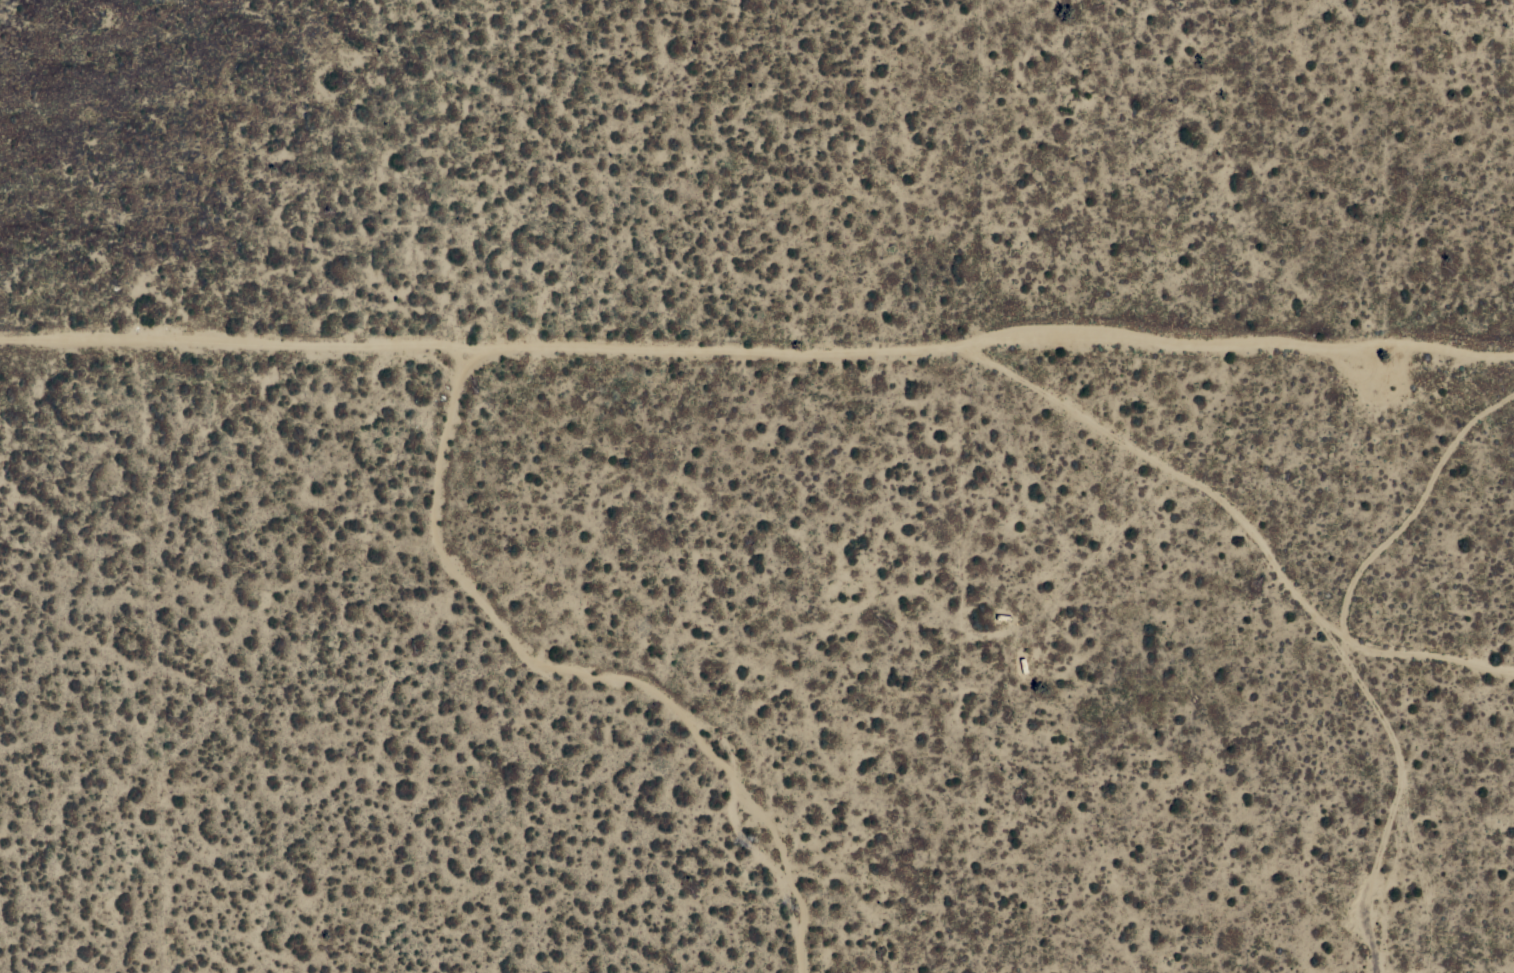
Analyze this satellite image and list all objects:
road: (1244, 339)
road: (488, 351)
road: (1247, 522)
road: (595, 671)

